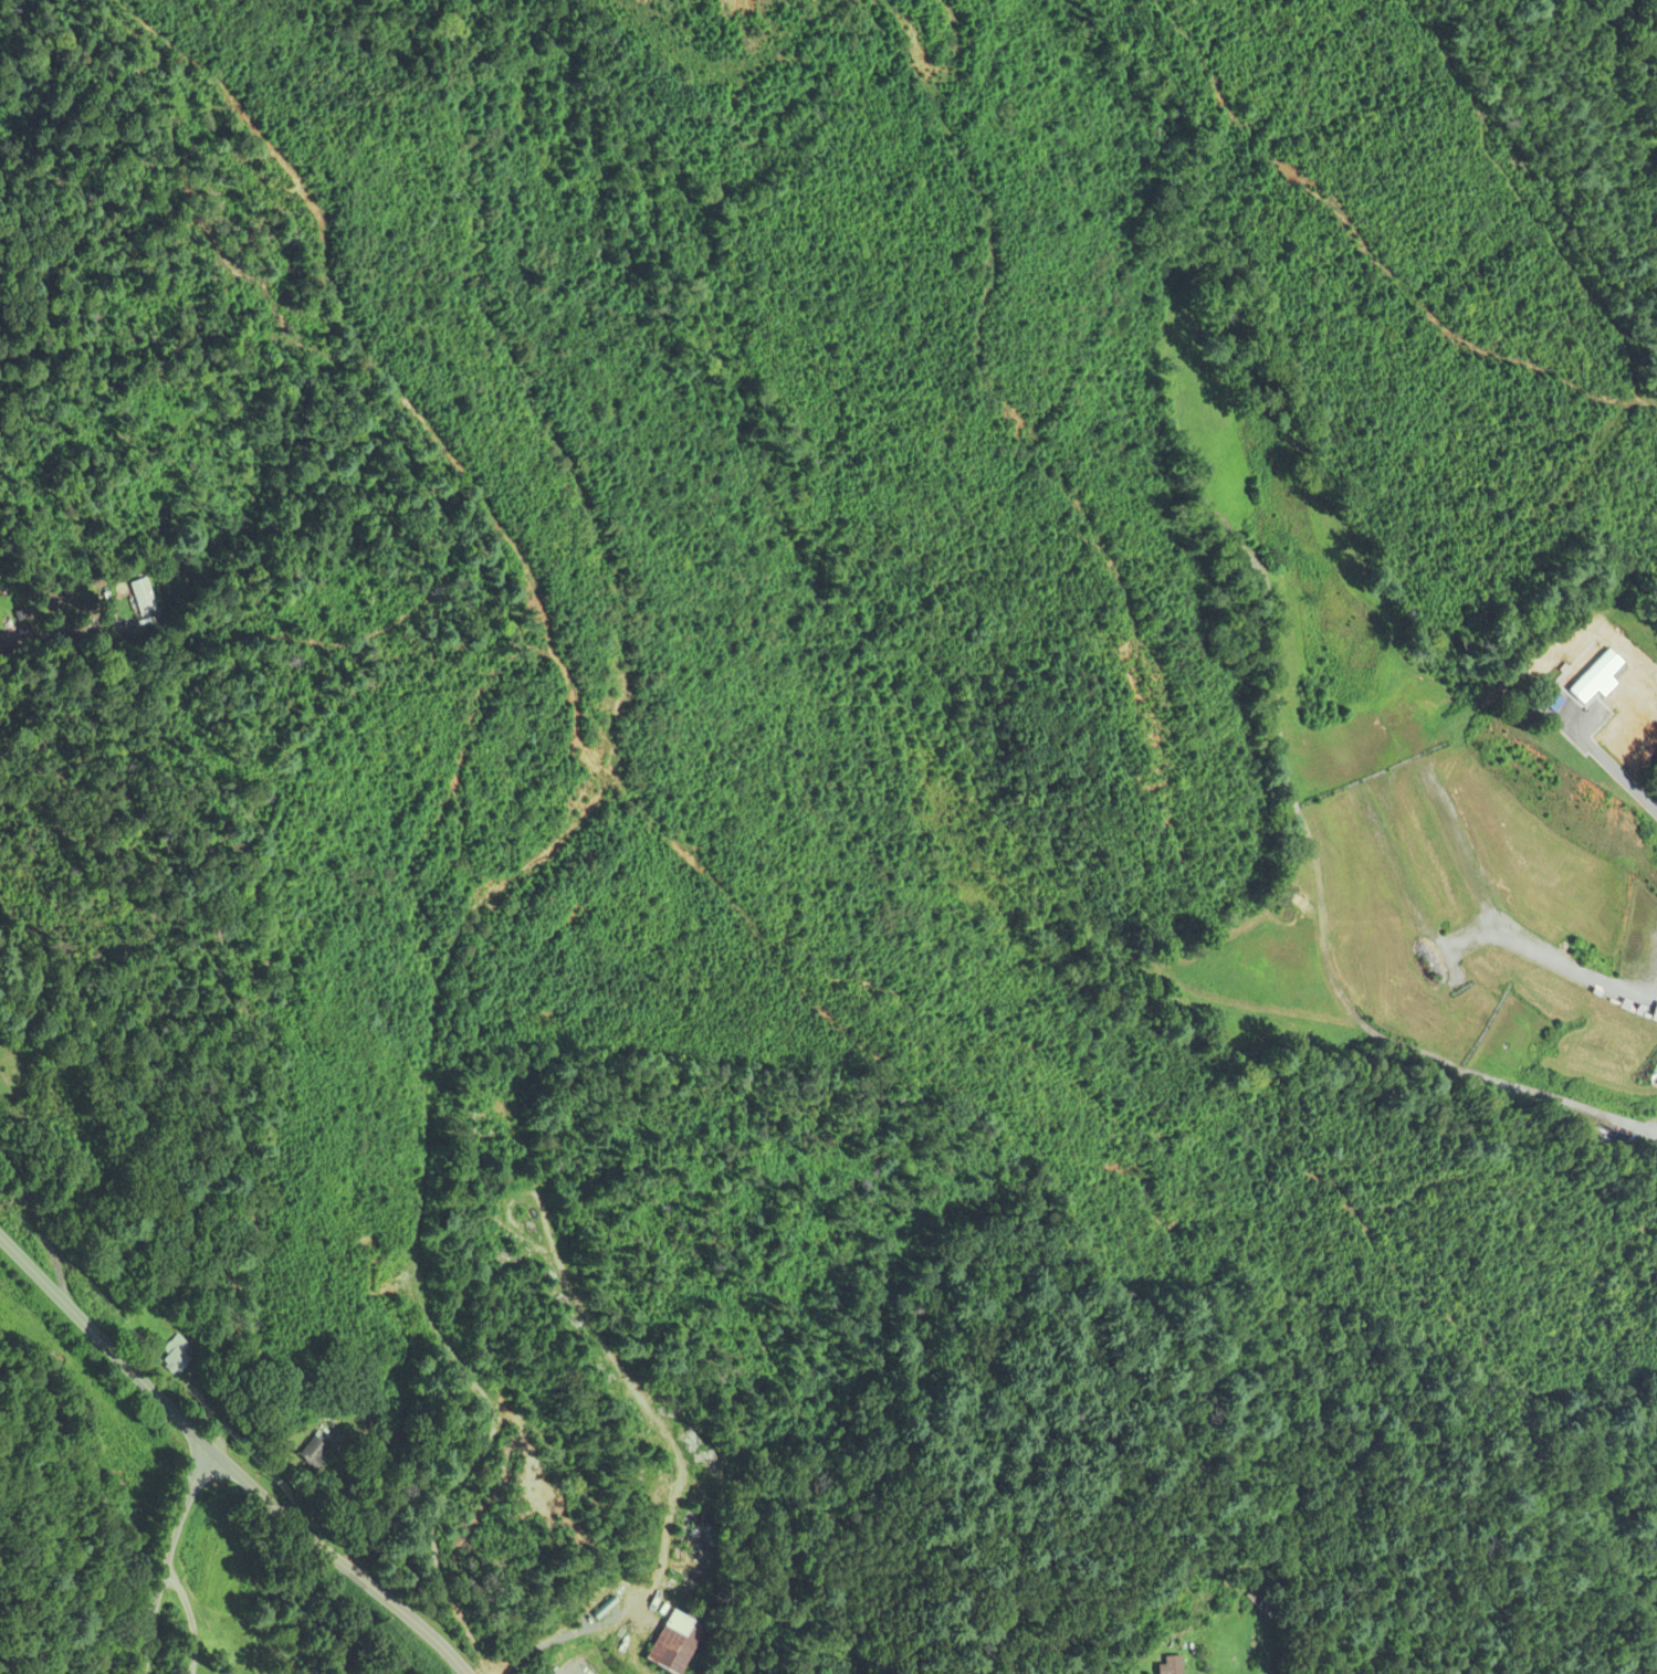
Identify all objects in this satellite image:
road: (283, 183)
building: (144, 598)
road: (69, 623)
building: (1586, 670)
road: (1619, 772)
building: (13, 1082)
road: (41, 1225)
building: (185, 1359)
building: (319, 1454)
road: (226, 1464)
road: (686, 1481)
building: (690, 1548)
road: (171, 1559)
building: (683, 1642)

